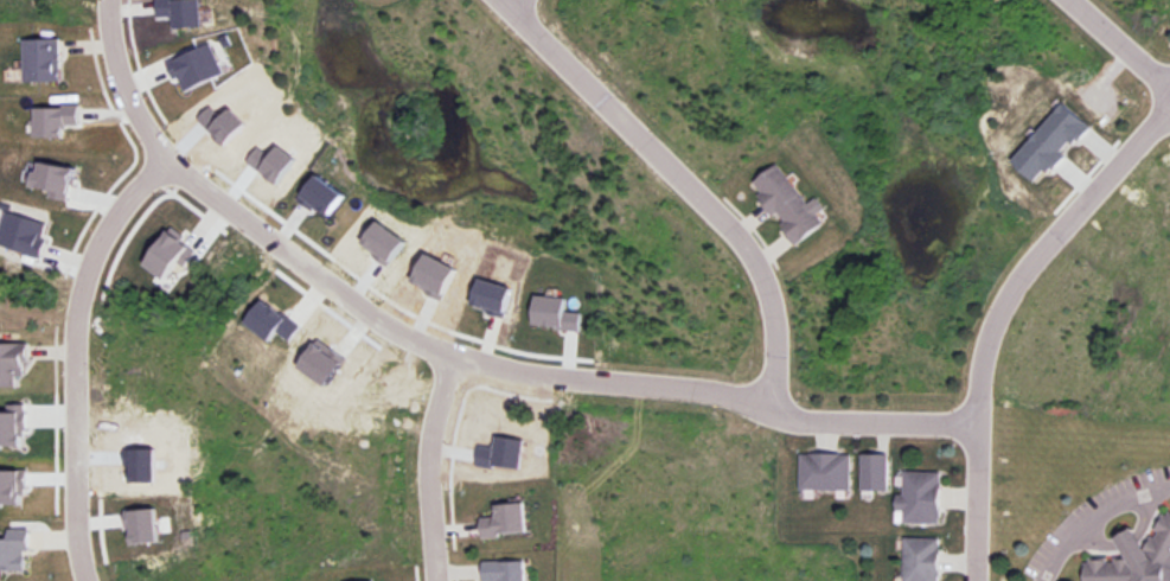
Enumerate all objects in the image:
road: (1123, 46)
building: (33, 59)
building: (193, 65)
building: (55, 120)
building: (1049, 142)
building: (51, 178)
road: (685, 179)
building: (774, 190)
building: (800, 218)
building: (23, 234)
building: (168, 254)
building: (492, 296)
road: (996, 309)
building: (554, 313)
building: (270, 321)
road: (456, 352)
road: (71, 353)
building: (7, 357)
building: (13, 426)
road: (426, 464)
building: (868, 468)
building: (817, 470)
building: (914, 493)
road: (1140, 511)
road: (1091, 515)
building: (494, 517)
building: (141, 524)
road: (1093, 532)
road: (1120, 541)
building: (11, 547)
building: (1130, 556)
building: (914, 557)
building: (496, 568)

